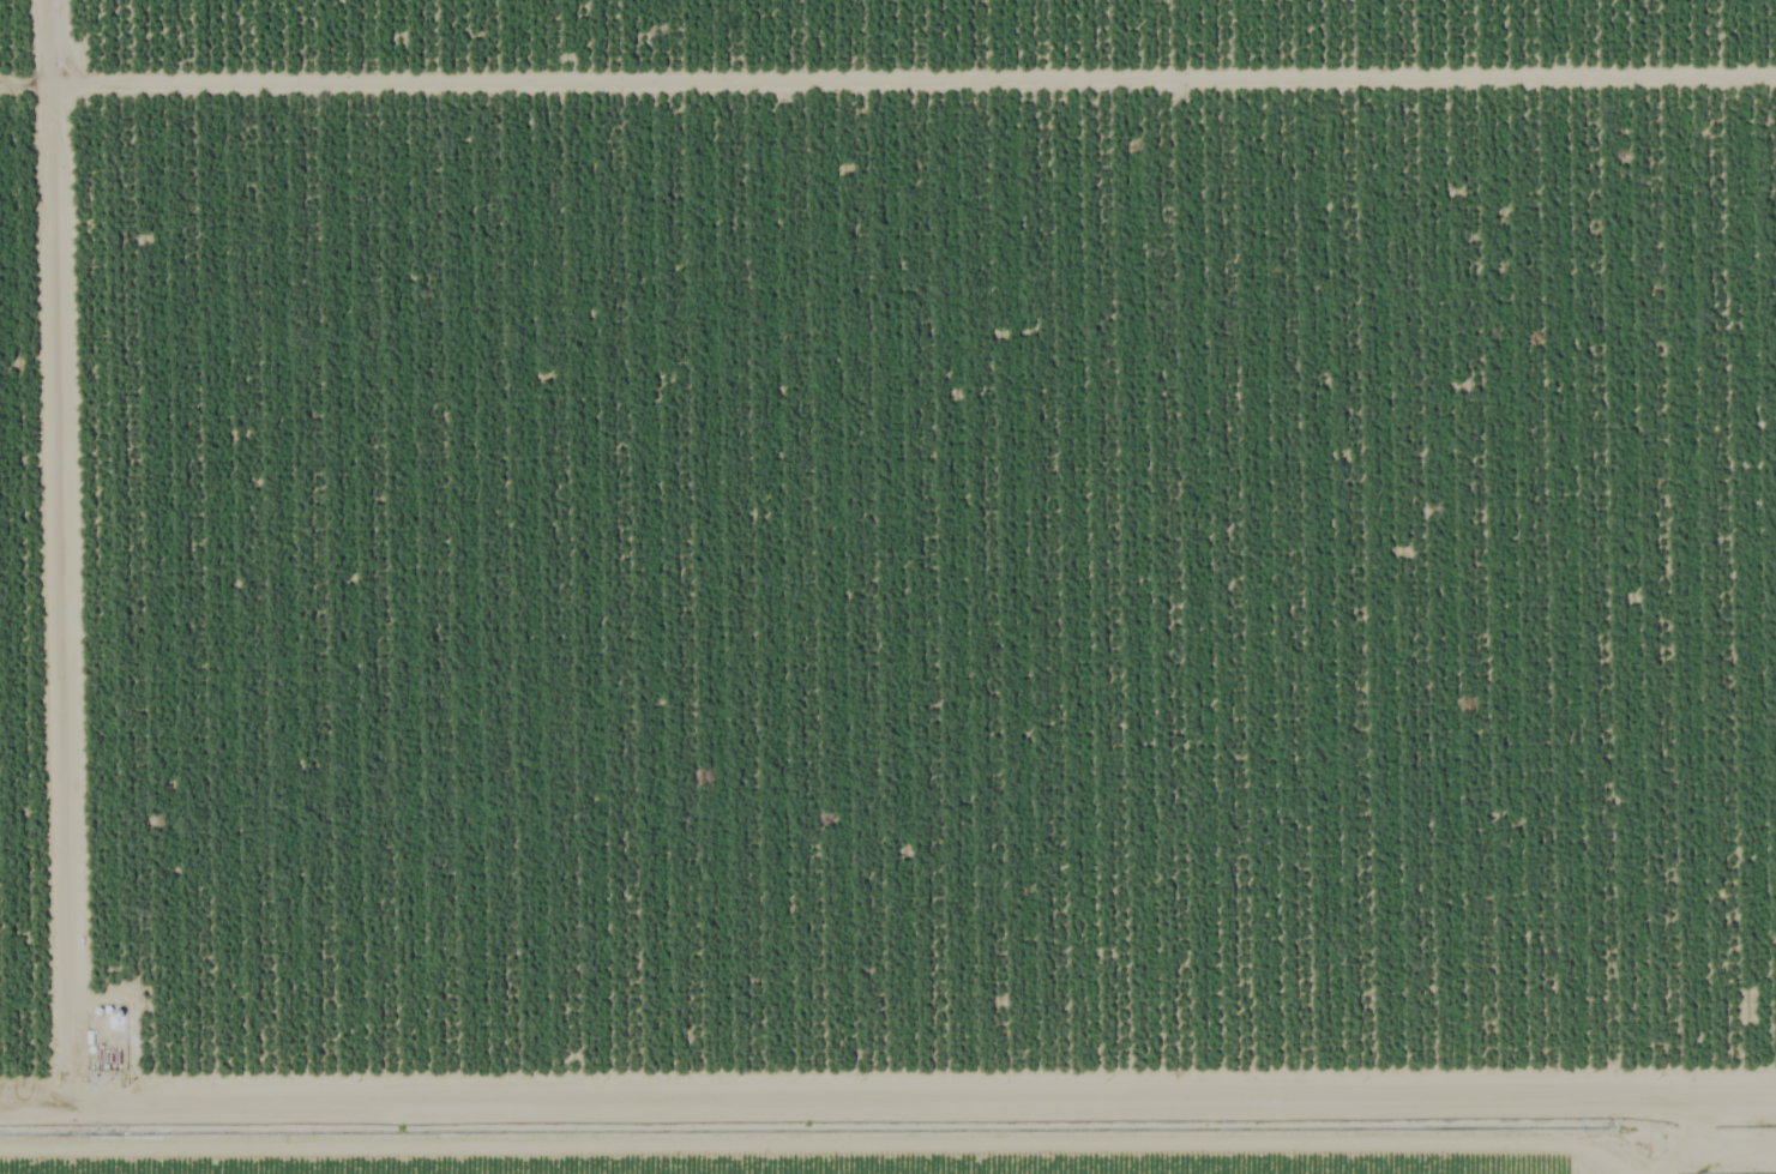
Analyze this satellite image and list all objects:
road: (887, 1083)
road: (887, 1124)
road: (1639, 1151)
crop: (856, 1162)

